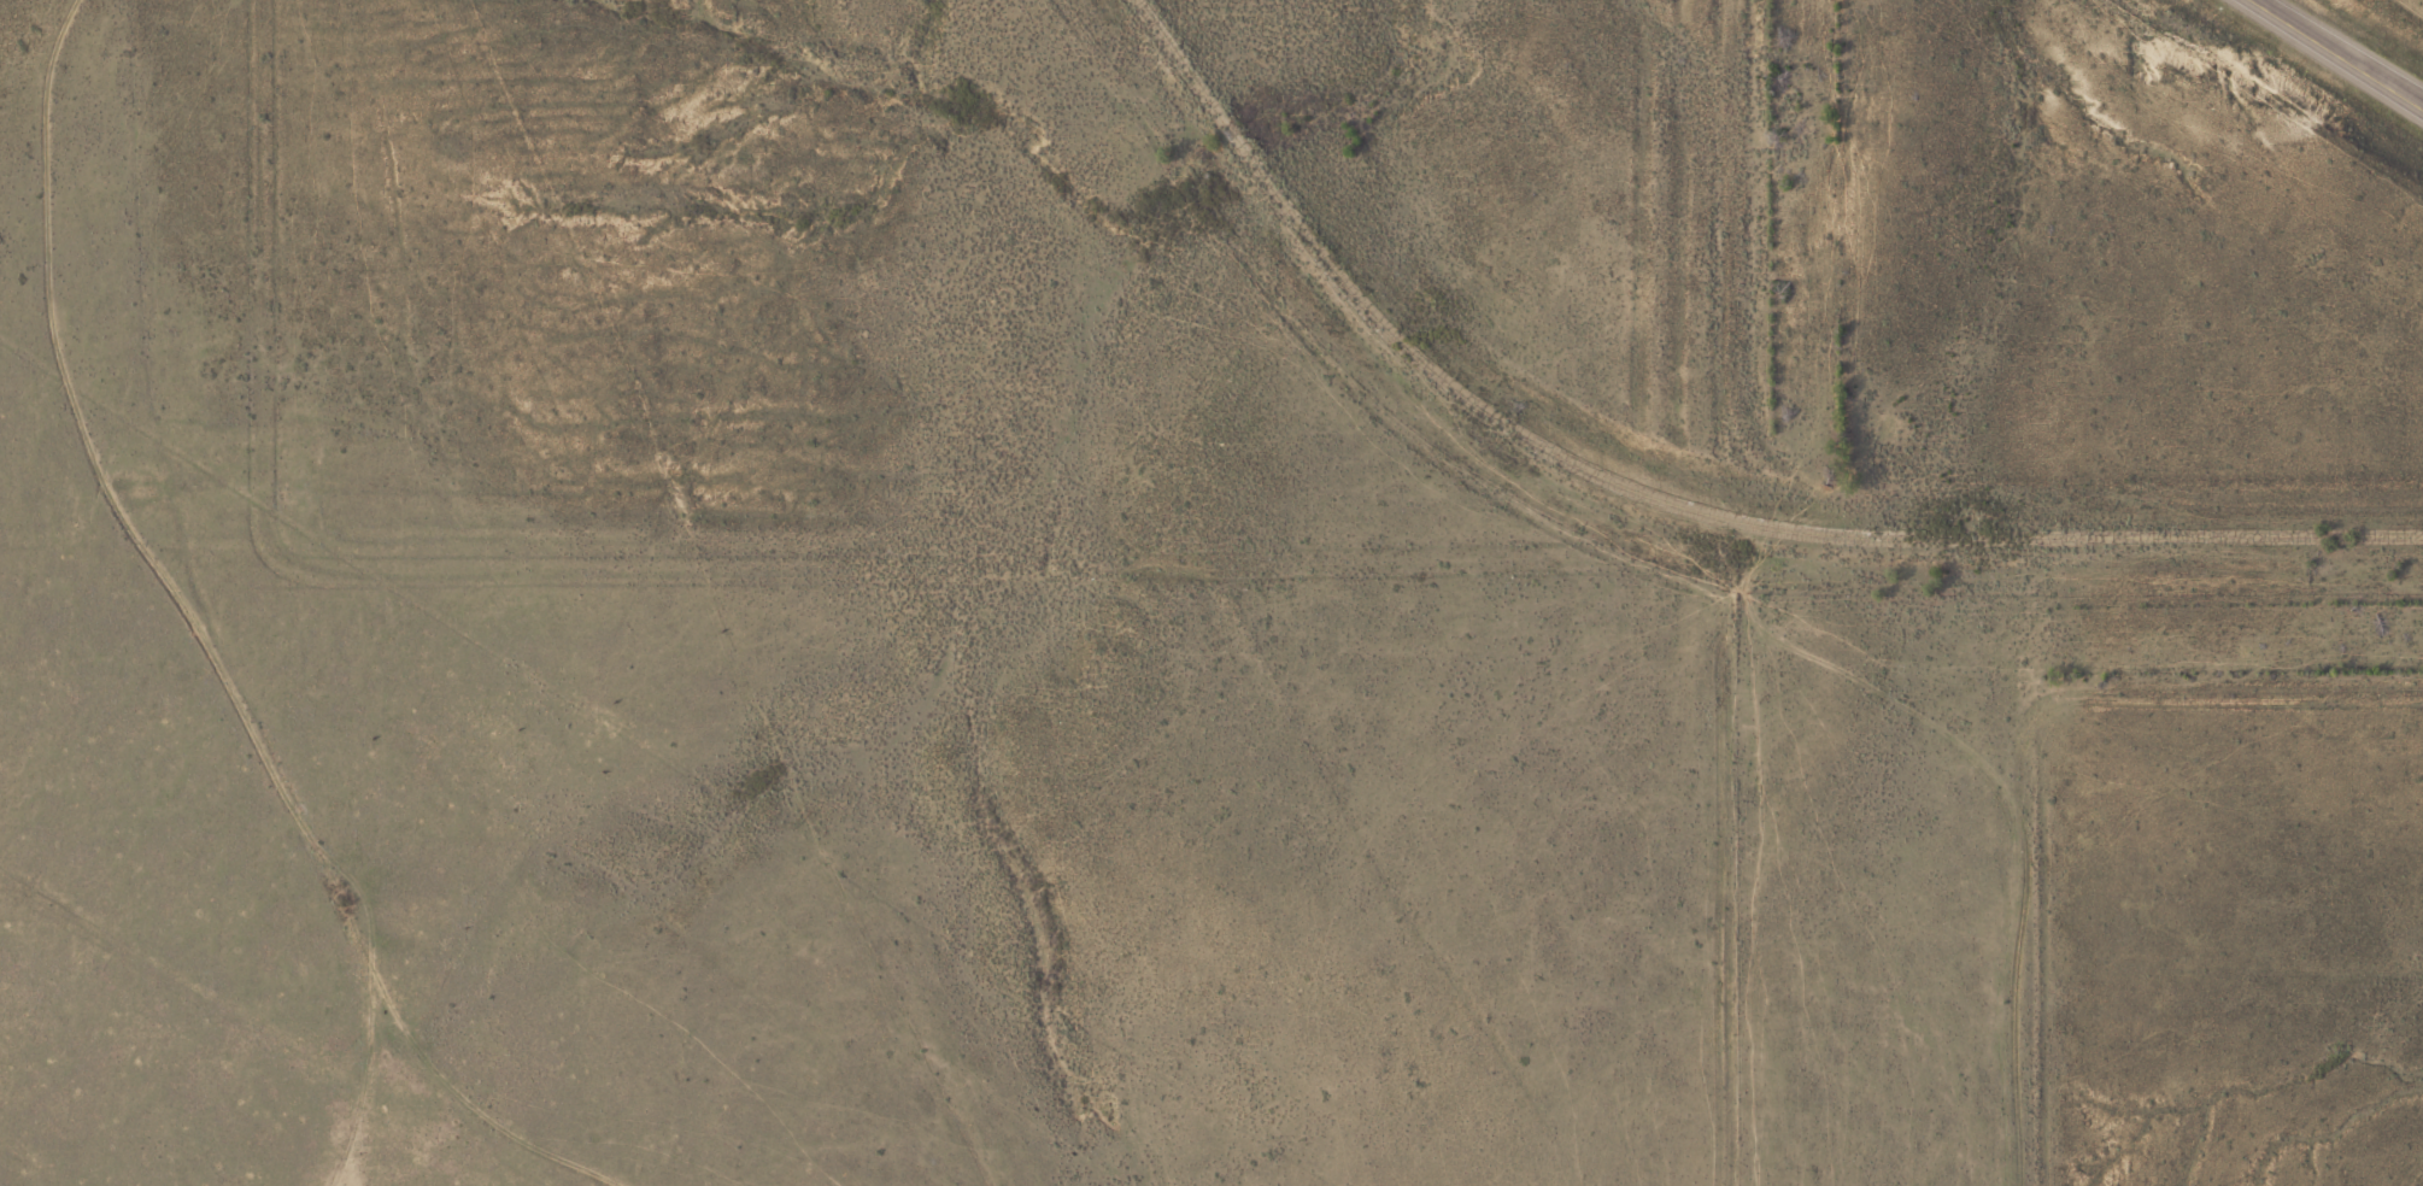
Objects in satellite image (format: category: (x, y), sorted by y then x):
road: (14, 18)
road: (2340, 52)
road: (257, 814)

